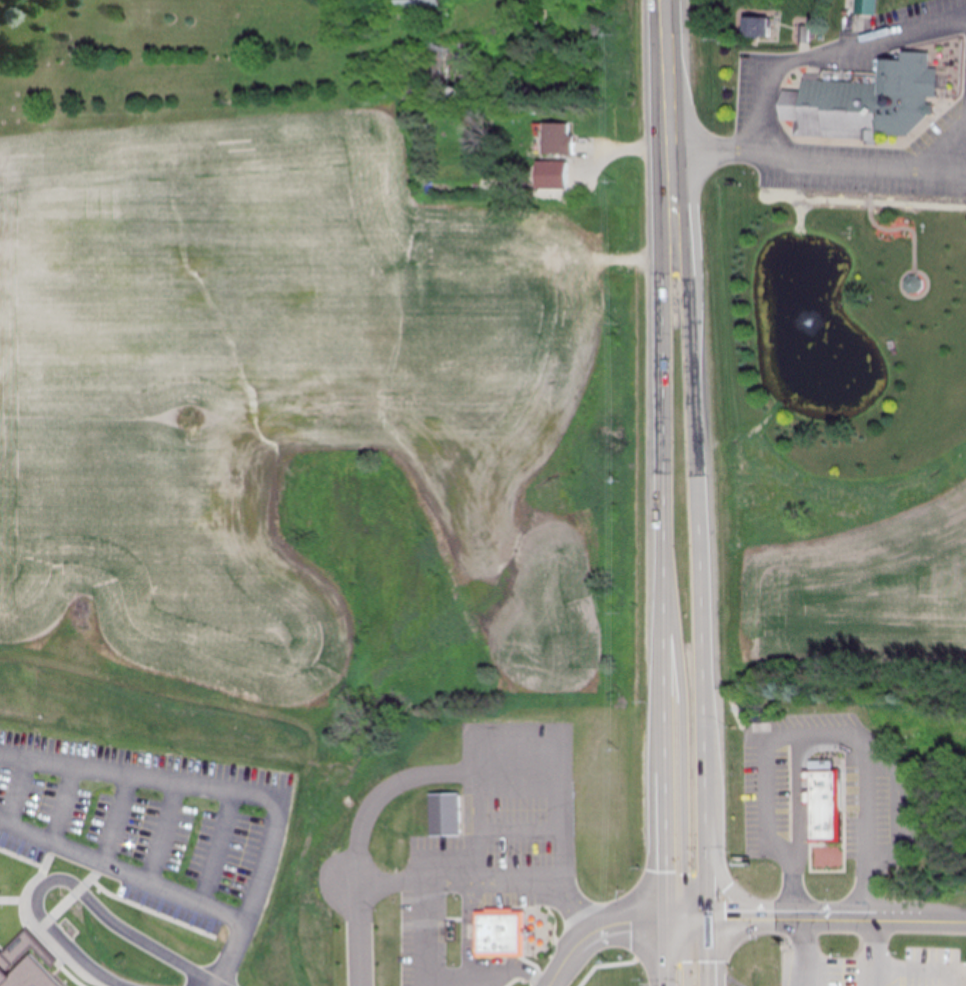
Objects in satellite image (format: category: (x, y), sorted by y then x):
building: (417, 3)
building: (864, 7)
building: (752, 27)
power tower: (613, 35)
road: (823, 55)
building: (452, 63)
road: (669, 84)
building: (867, 103)
building: (558, 140)
road: (633, 148)
road: (949, 148)
road: (817, 164)
power tower: (616, 181)
building: (554, 242)
road: (637, 256)
power tower: (617, 324)
power tower: (619, 480)
road: (697, 512)
road: (662, 544)
power tower: (620, 614)
road: (681, 745)
power tower: (619, 748)
road: (430, 777)
road: (10, 788)
road: (239, 789)
road: (538, 794)
road: (57, 802)
building: (820, 807)
building: (443, 815)
road: (112, 817)
parking lot: (147, 823)
road: (163, 831)
road: (537, 841)
road: (213, 845)
road: (122, 872)
road: (68, 885)
road: (544, 885)
road: (707, 887)
road: (369, 893)
road: (743, 900)
traffic signals: (667, 919)
road: (687, 919)
traffic signals: (707, 919)
road: (753, 919)
road: (623, 920)
road: (833, 920)
road: (916, 921)
building: (497, 935)
building: (373, 943)
road: (683, 950)
road: (667, 952)
road: (707, 952)
road: (799, 953)
road: (867, 953)
road: (564, 959)
building: (281, 960)
road: (473, 961)
building: (25, 962)
power tower: (608, 962)
road: (617, 963)
road: (64, 971)
road: (920, 973)
road: (438, 984)

